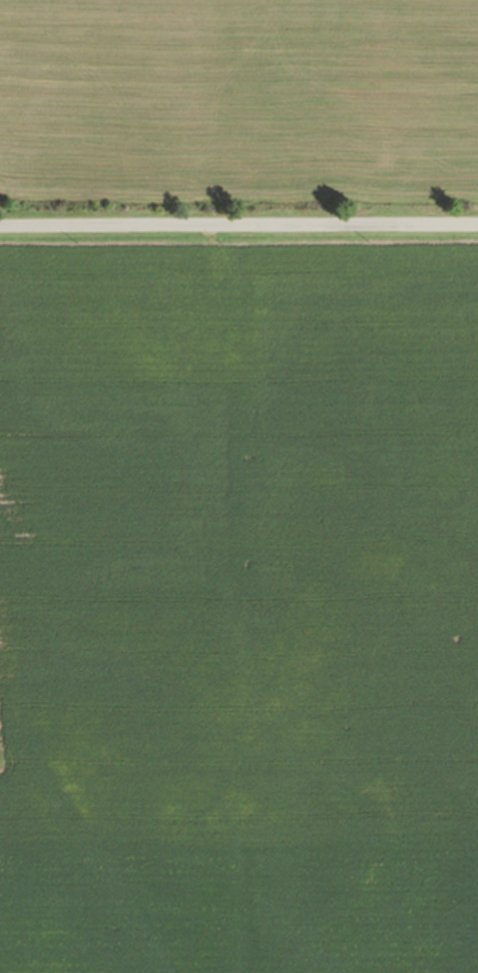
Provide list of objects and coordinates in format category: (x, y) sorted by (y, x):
road: (239, 223)

